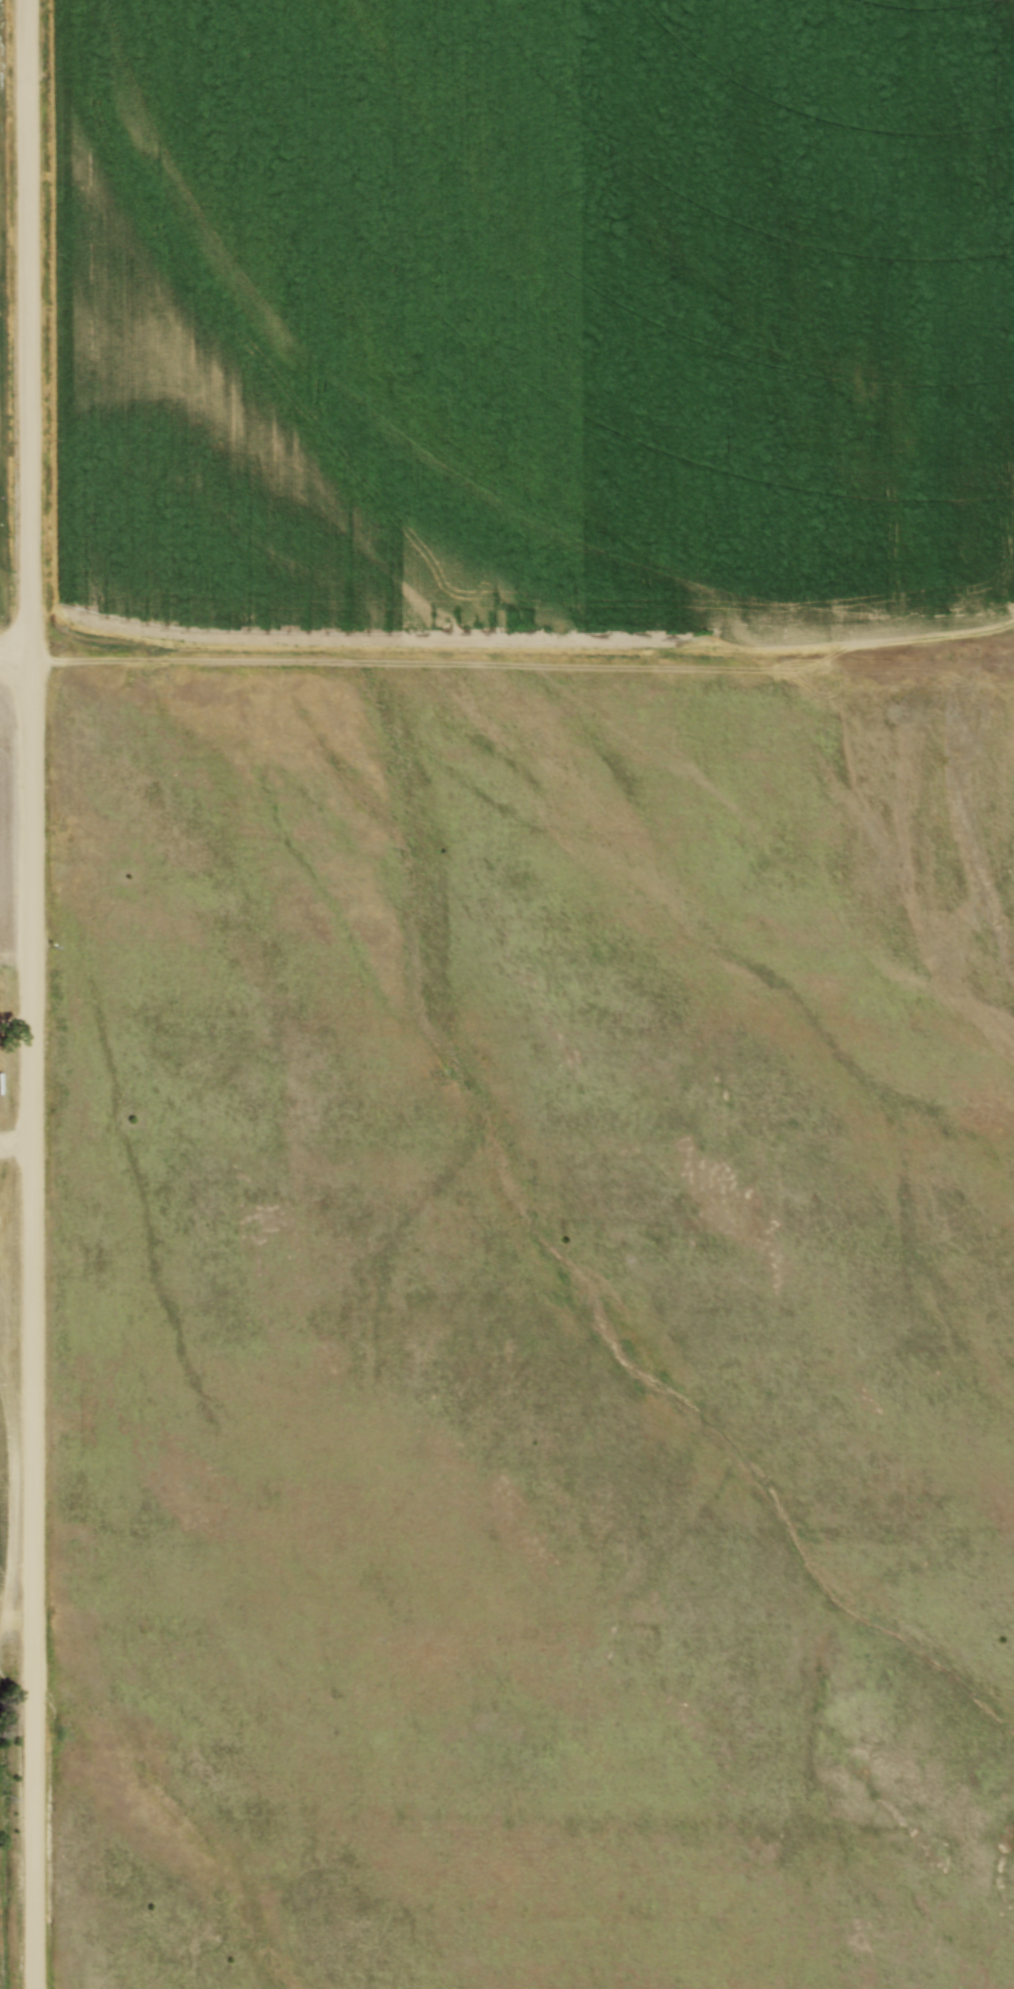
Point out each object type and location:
crop: (536, 314)
road: (16, 654)
road: (32, 994)
road: (16, 1142)
crop: (0, 1978)

